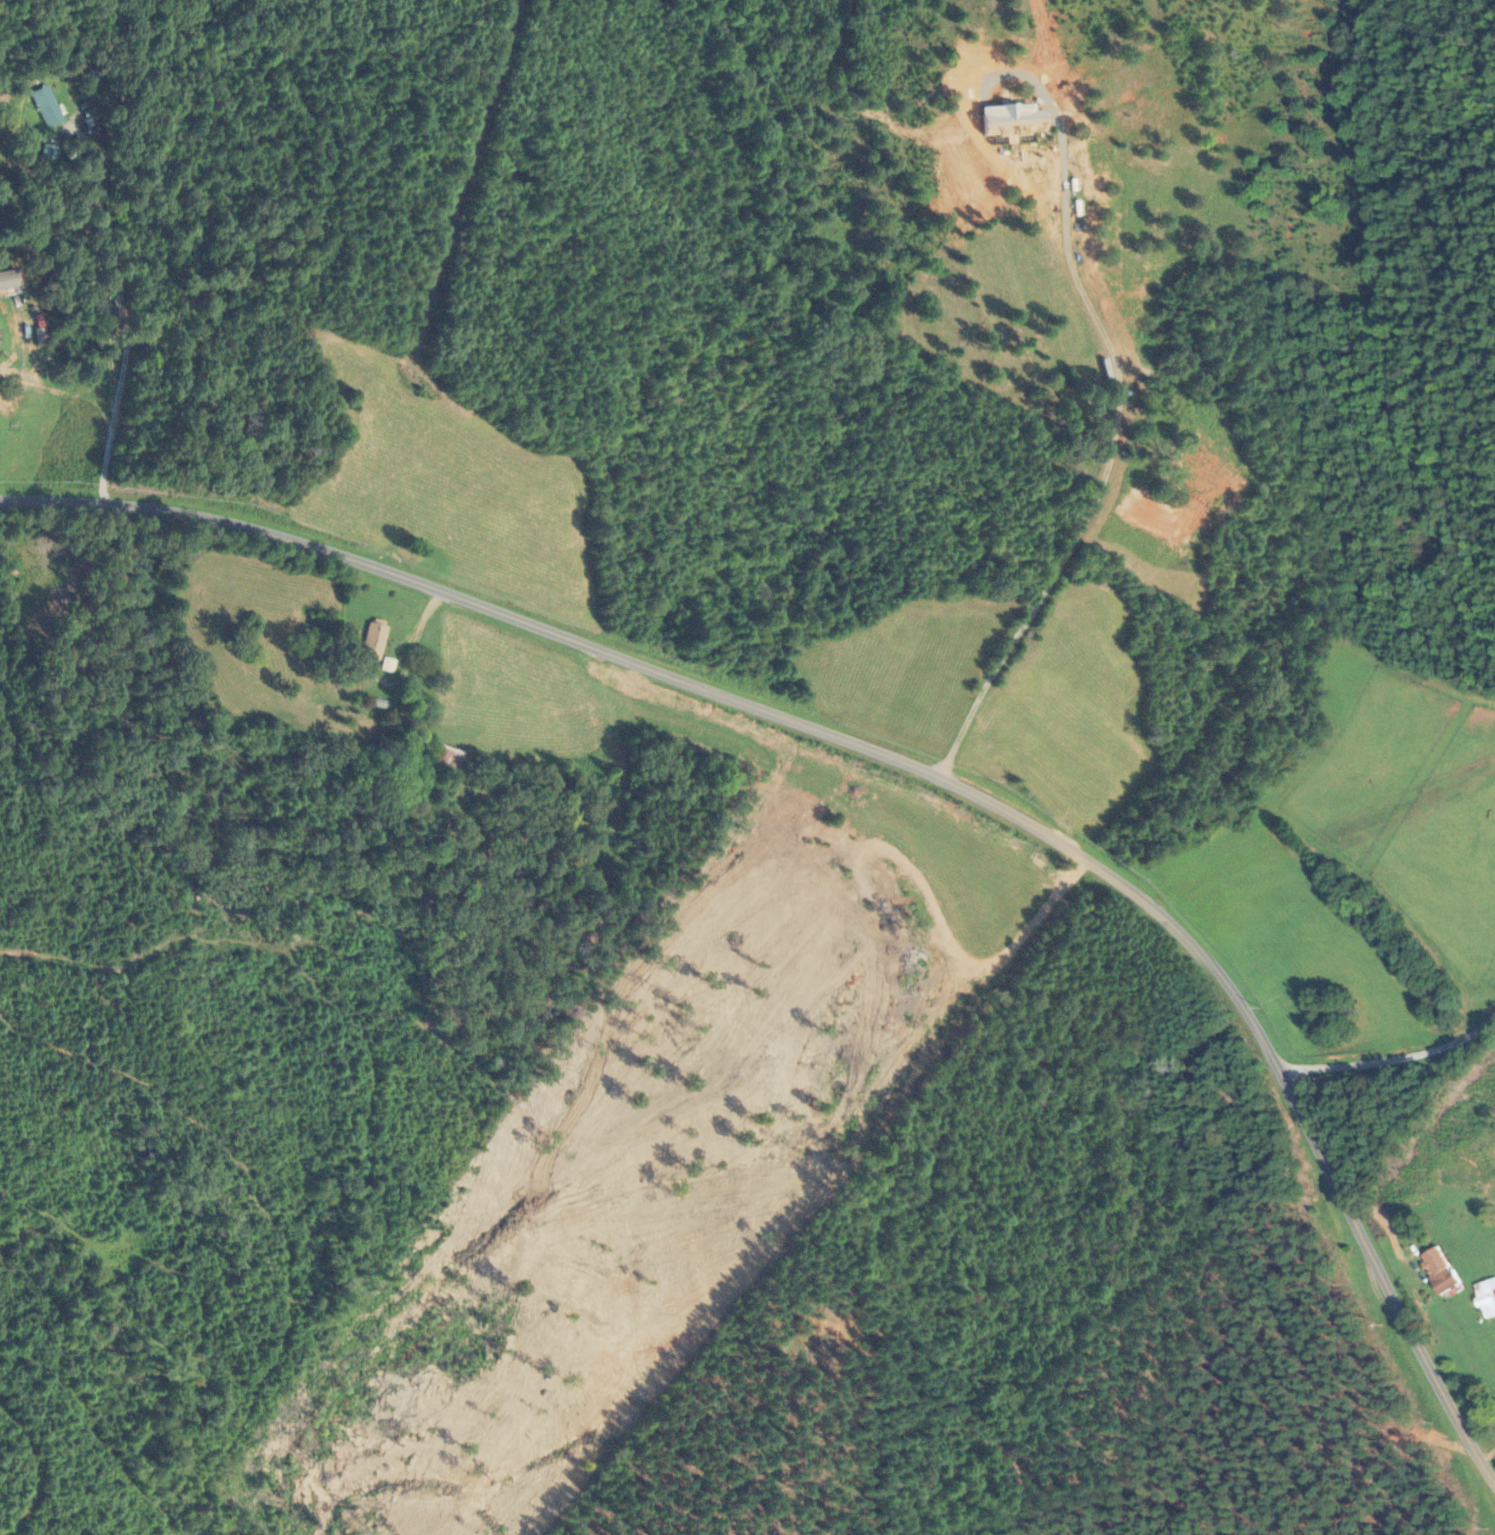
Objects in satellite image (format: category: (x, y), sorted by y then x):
building: (45, 109)
building: (1004, 117)
road: (109, 247)
building: (21, 306)
road: (99, 402)
road: (1110, 459)
road: (567, 637)
building: (374, 641)
building: (413, 750)
building: (448, 759)
road: (1391, 1057)
road: (1321, 1164)
building: (1439, 1271)
building: (1486, 1298)

